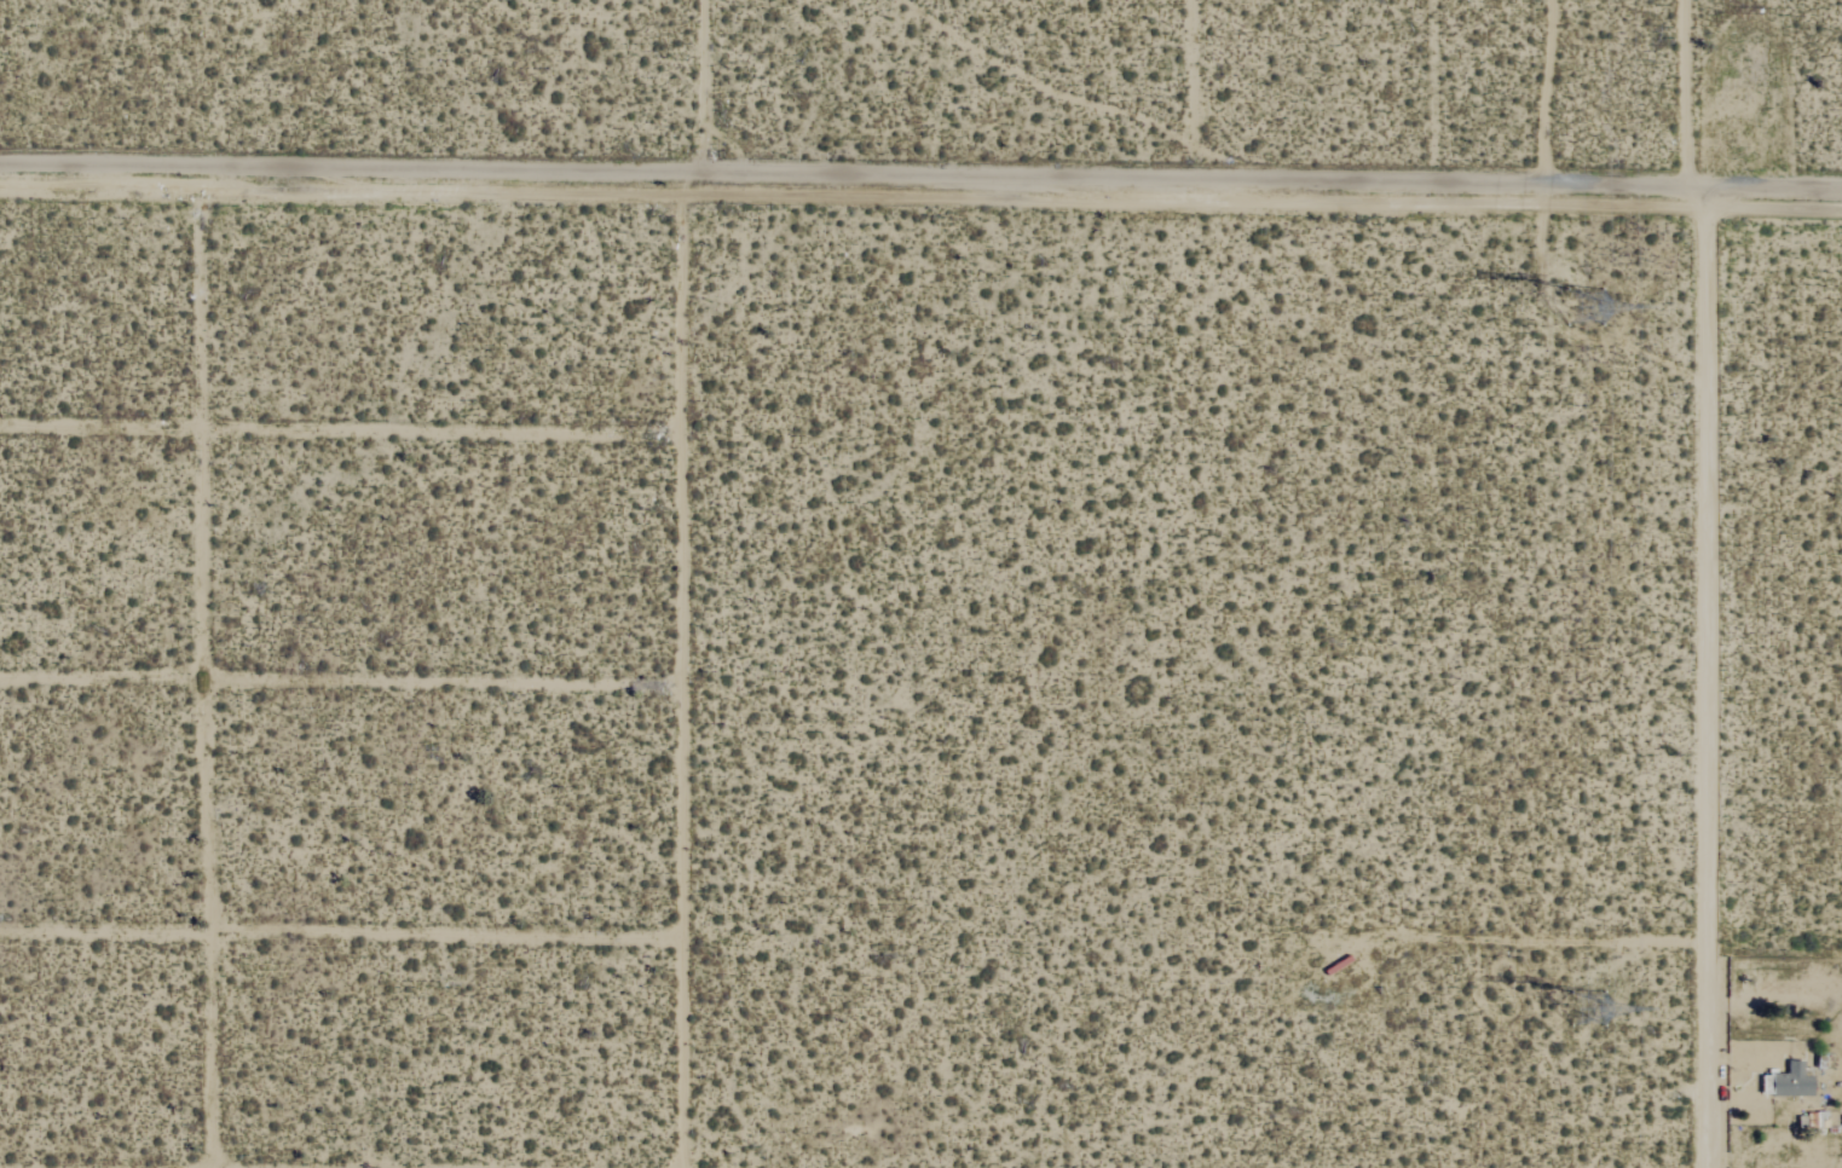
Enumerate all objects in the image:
road: (1537, 92)
road: (1269, 94)
road: (634, 170)
road: (1555, 185)
power tower: (1580, 307)
road: (341, 423)
road: (683, 578)
road: (1704, 583)
road: (204, 665)
road: (342, 673)
road: (342, 932)
power tower: (1586, 1013)

